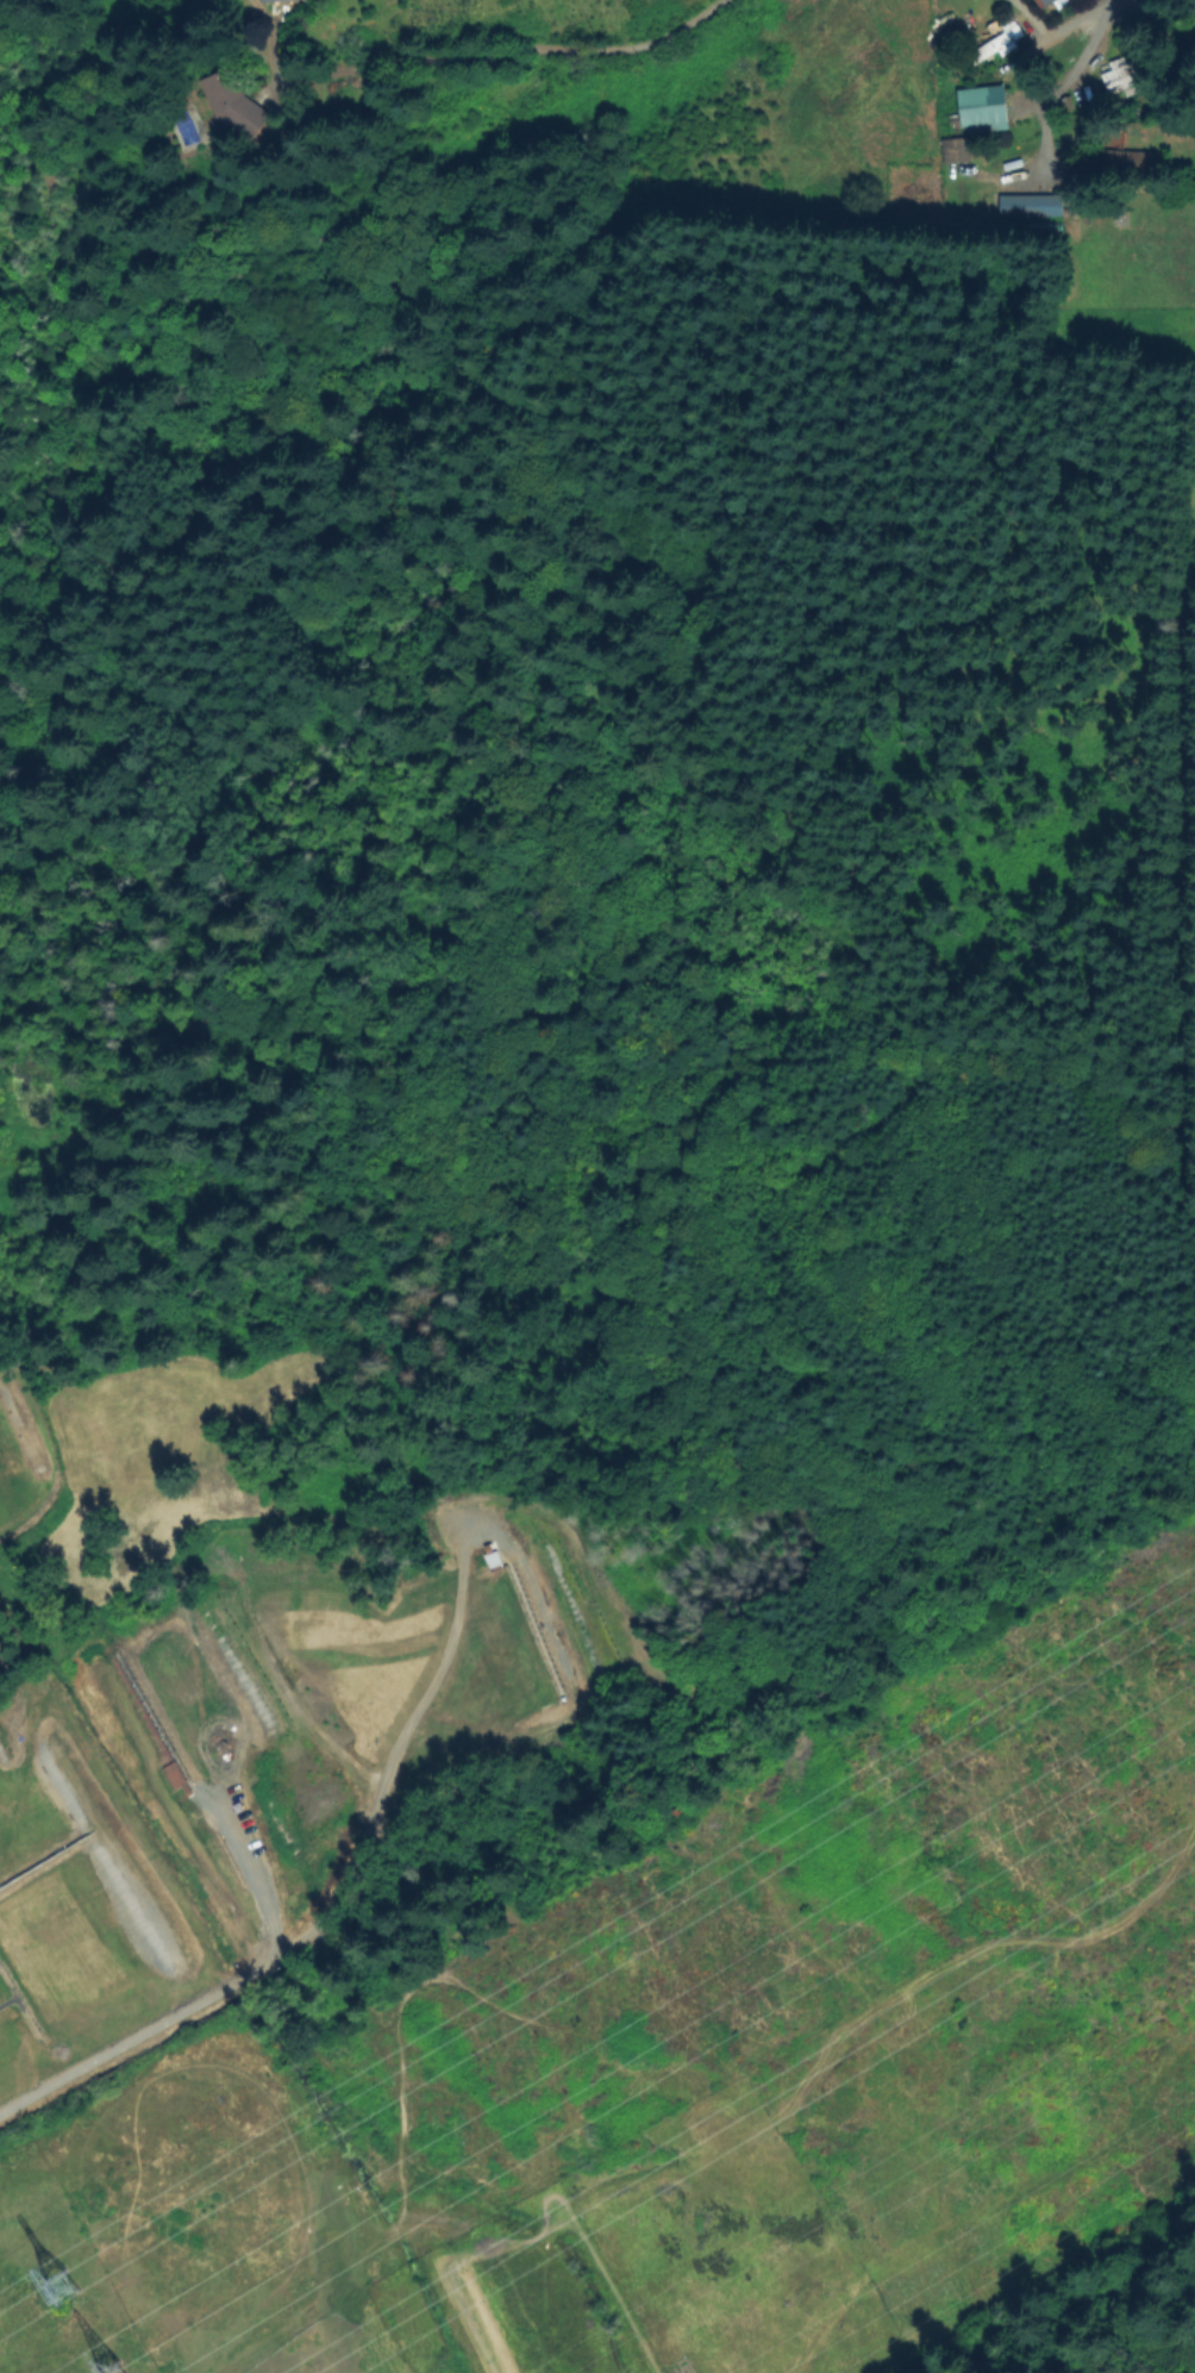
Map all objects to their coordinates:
building: (274, 0)
building: (1046, 4)
road: (258, 13)
road: (1053, 29)
building: (995, 44)
road: (1076, 75)
building: (1122, 80)
building: (980, 108)
building: (219, 110)
building: (953, 152)
building: (1130, 167)
building: (1024, 206)
building: (490, 1561)
building: (176, 1775)
road: (209, 1800)
road: (194, 2007)
power tower: (64, 2280)
building: (58, 2287)

